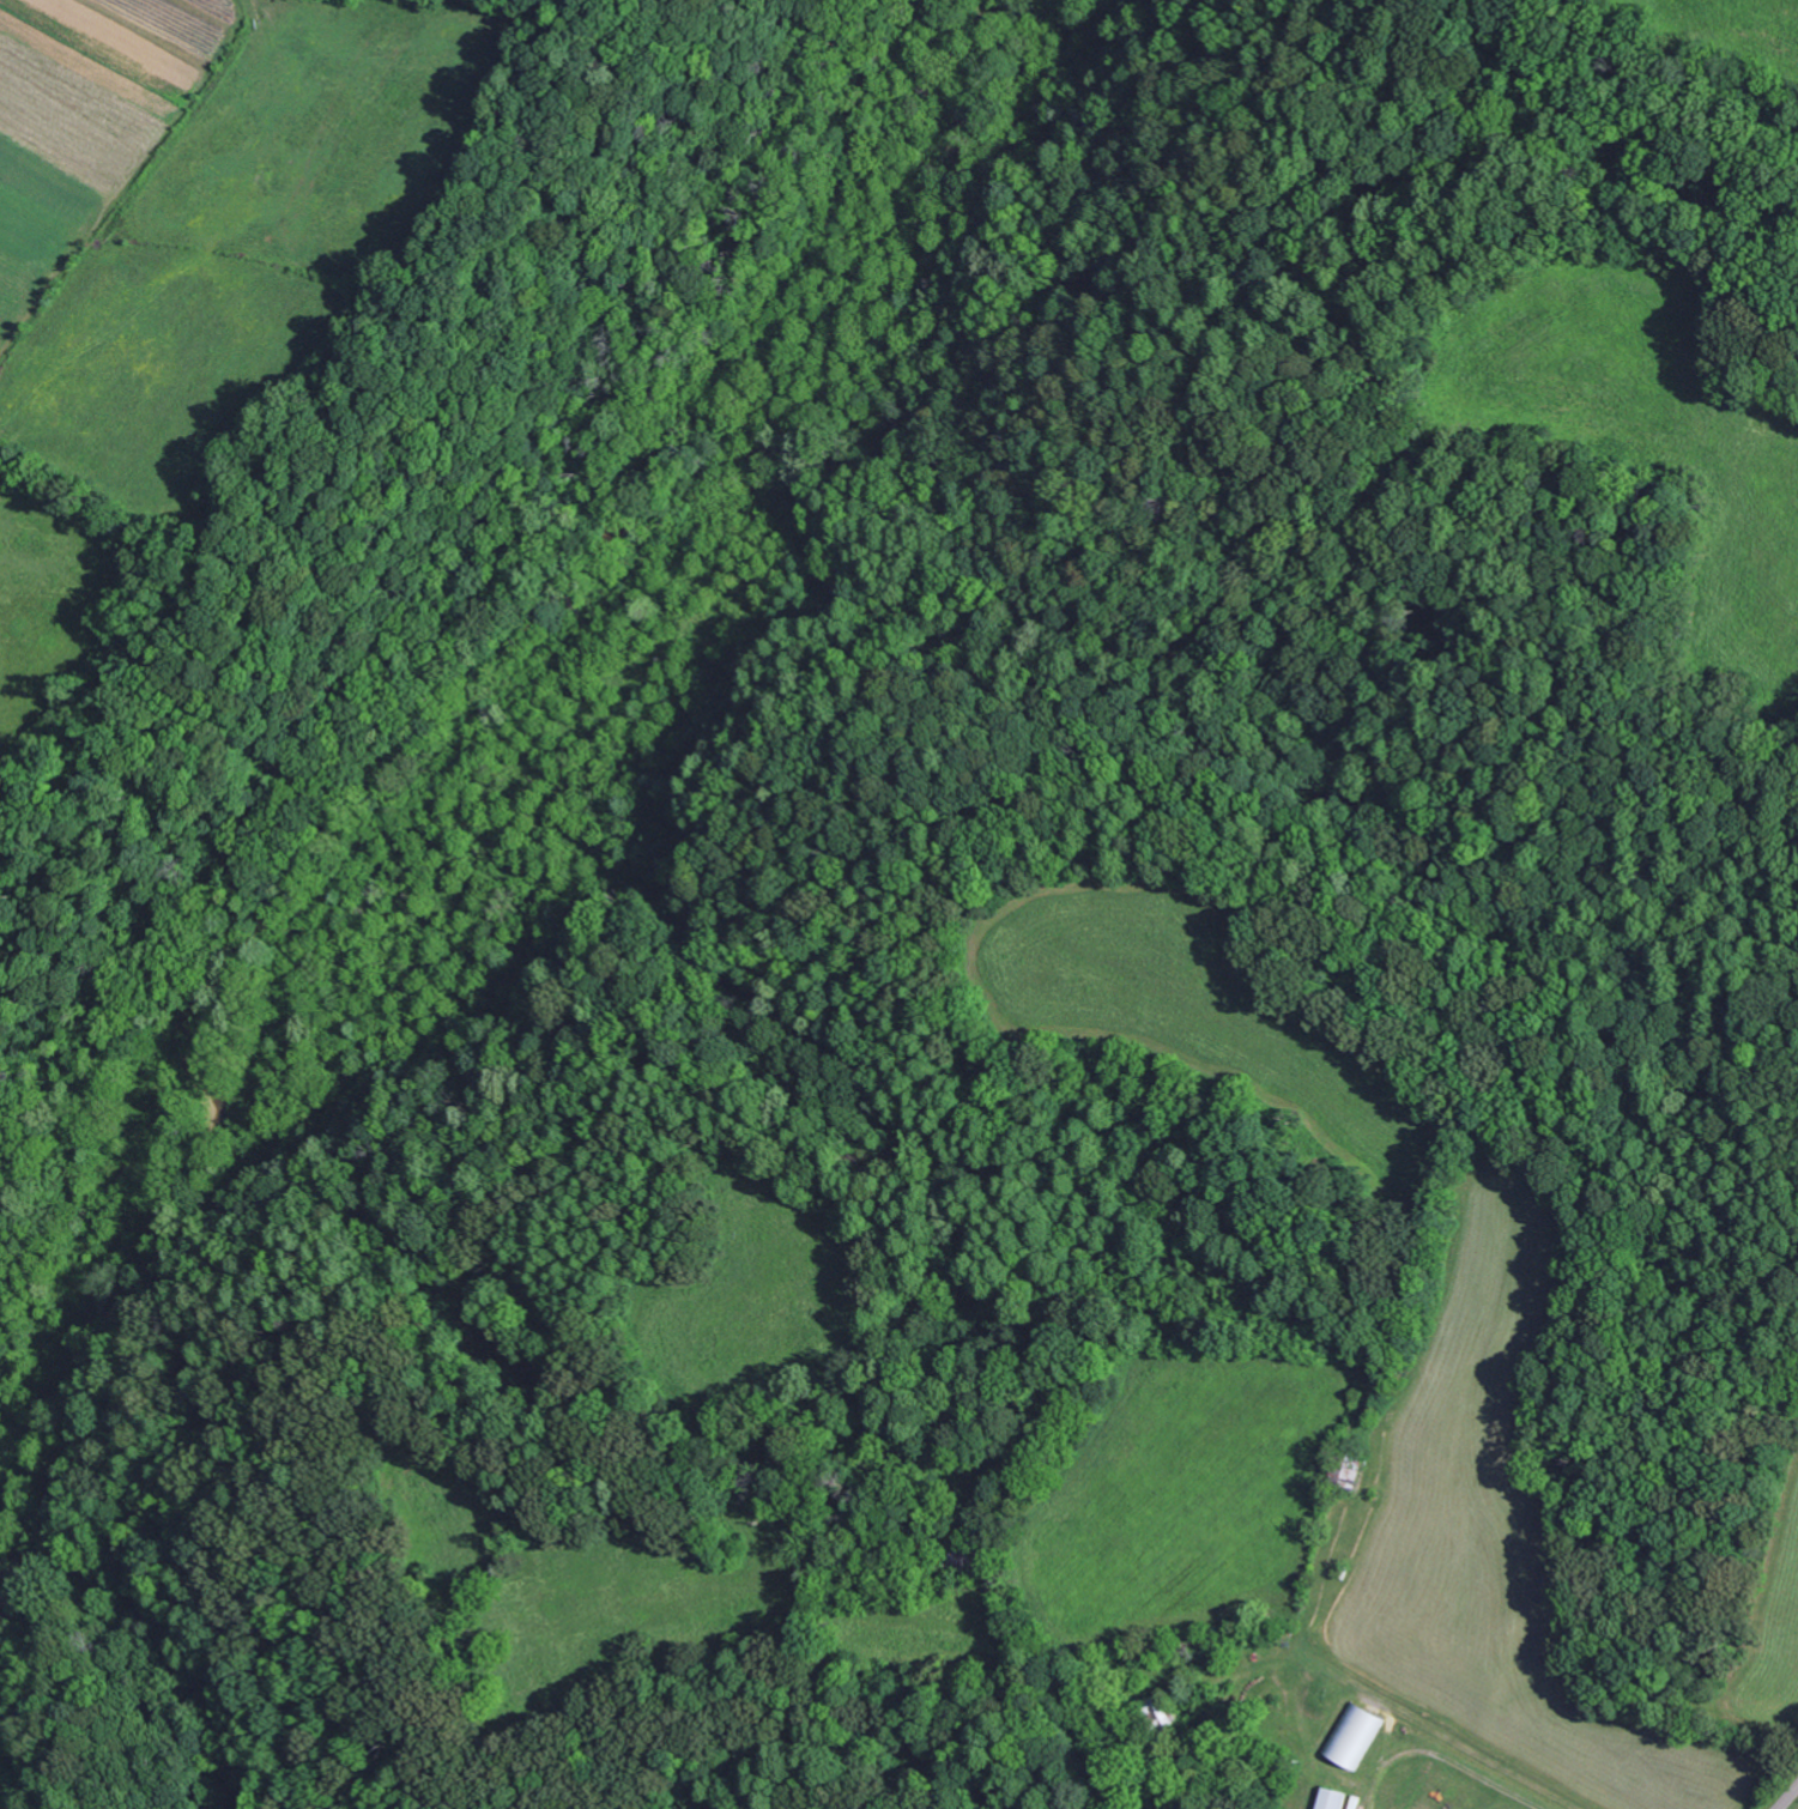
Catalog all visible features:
road: (1345, 1704)
road: (1788, 1797)
building: (1334, 1799)

